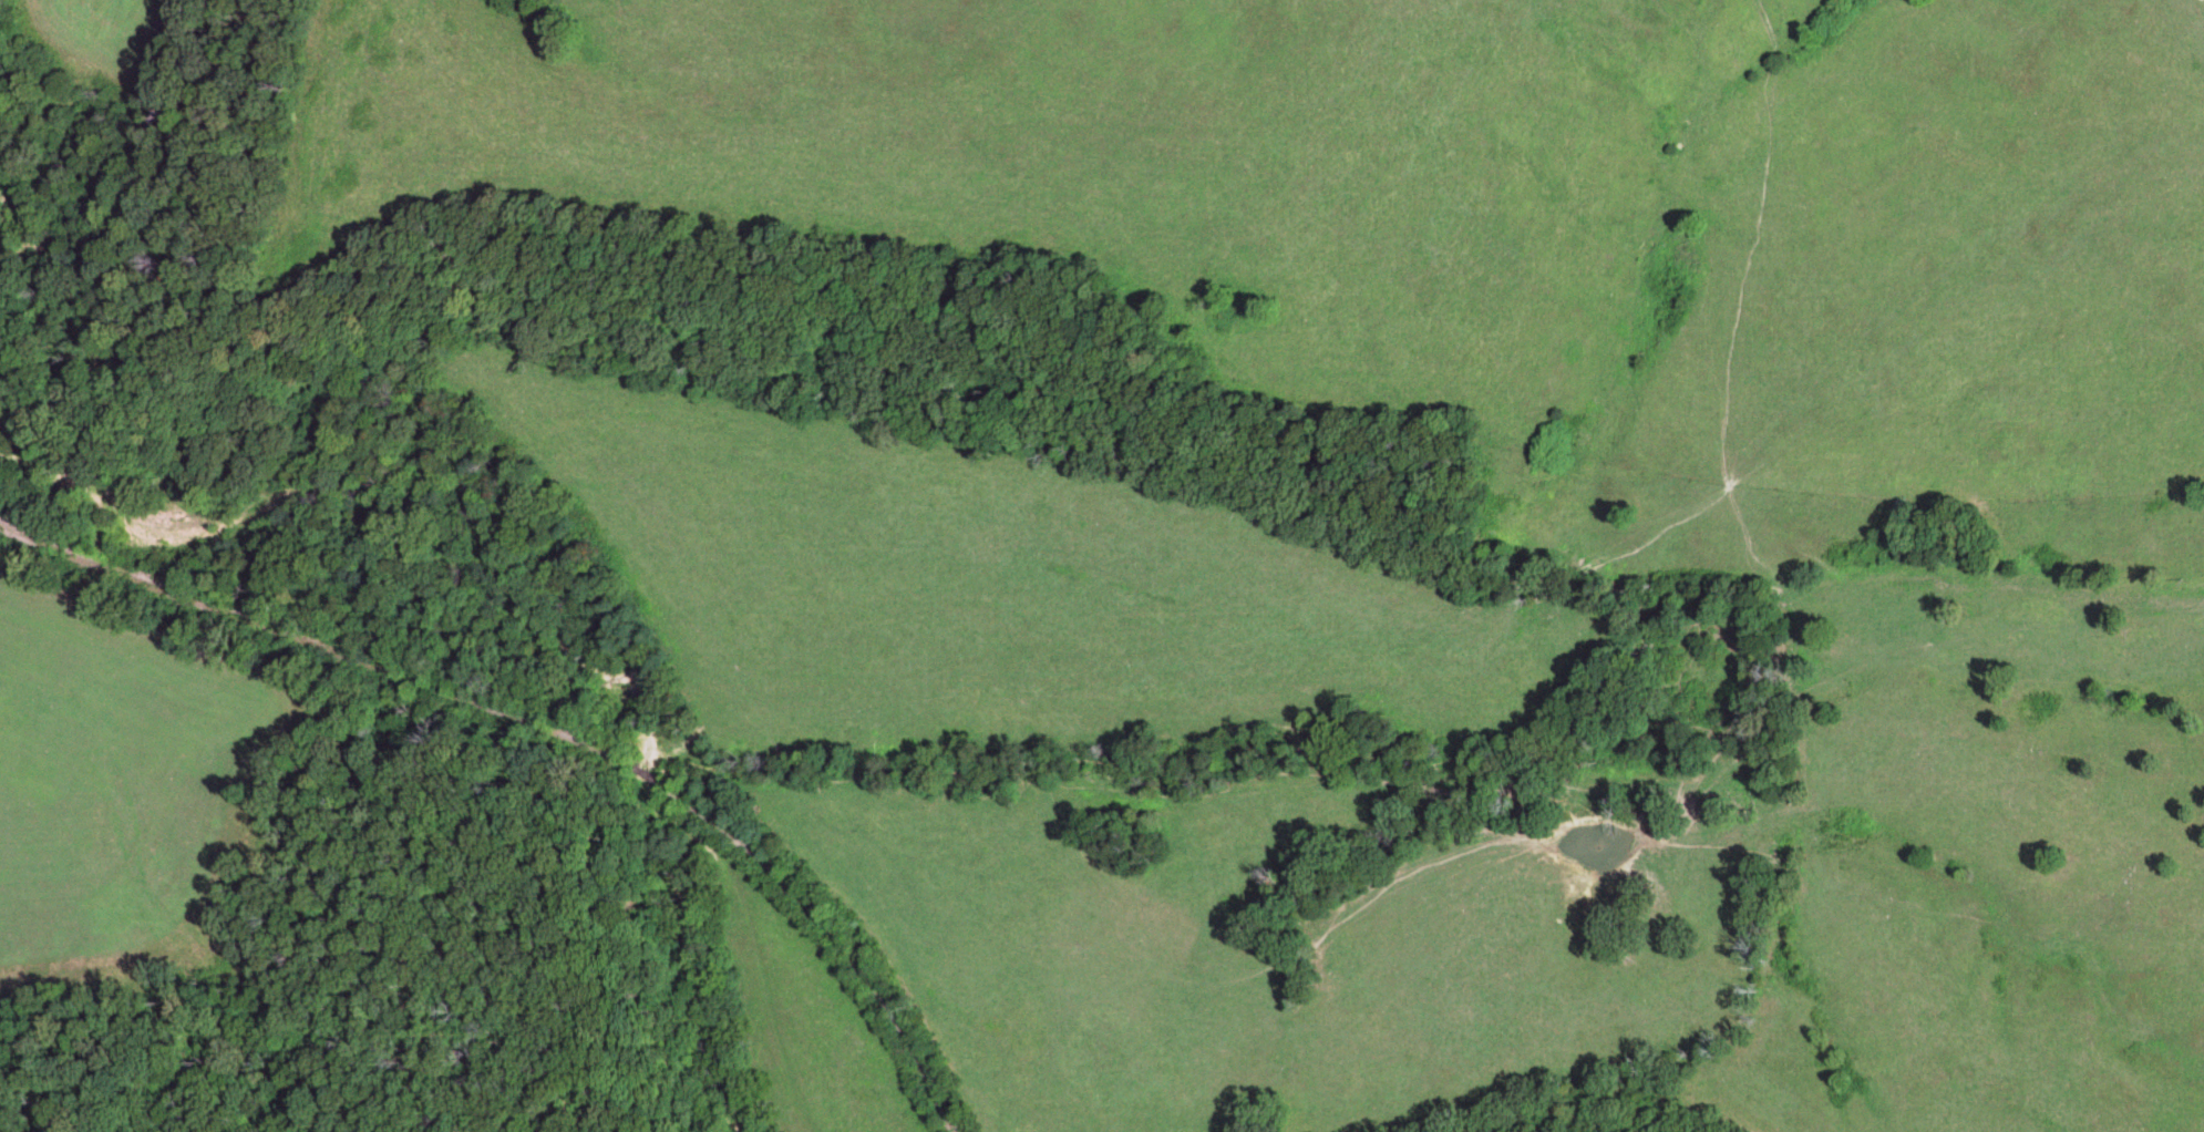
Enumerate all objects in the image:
road: (6, 226)
road: (389, 486)
railway: (547, 730)

